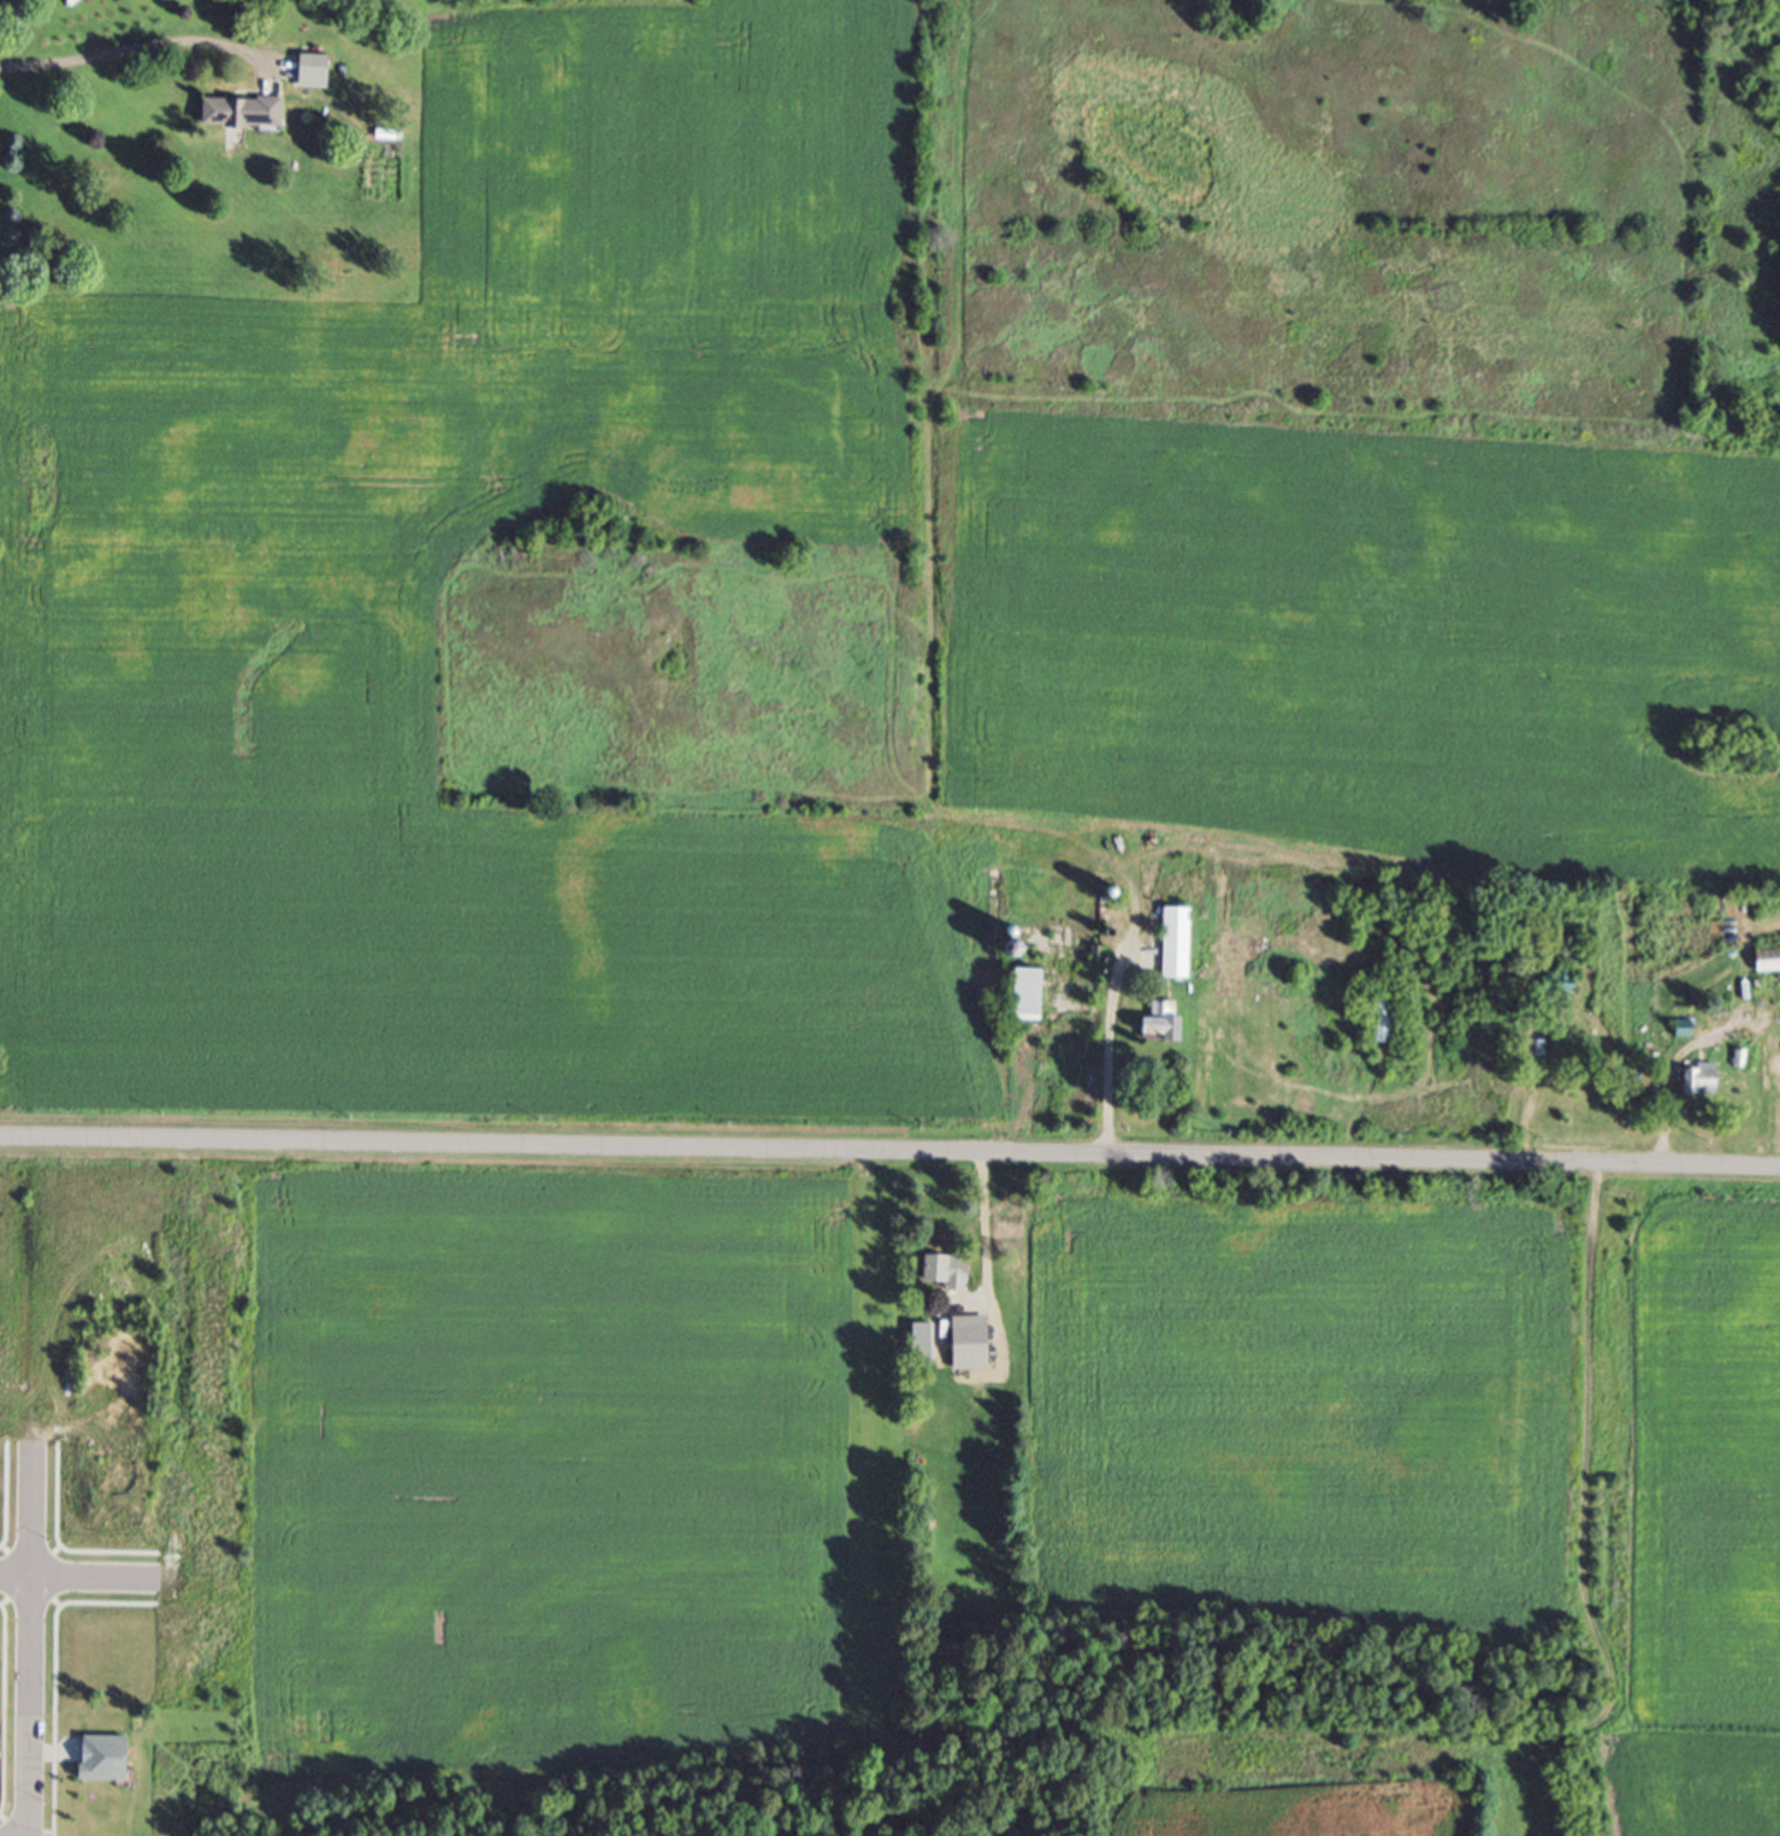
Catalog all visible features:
road: (142, 43)
building: (321, 76)
building: (249, 117)
building: (1183, 949)
building: (1450, 960)
building: (1772, 967)
building: (1569, 992)
building: (1039, 1000)
building: (1390, 1021)
building: (1169, 1028)
road: (1104, 1044)
building: (1708, 1085)
road: (889, 1147)
road: (987, 1226)
building: (951, 1276)
building: (928, 1345)
building: (976, 1348)
road: (85, 1575)
road: (32, 1642)

